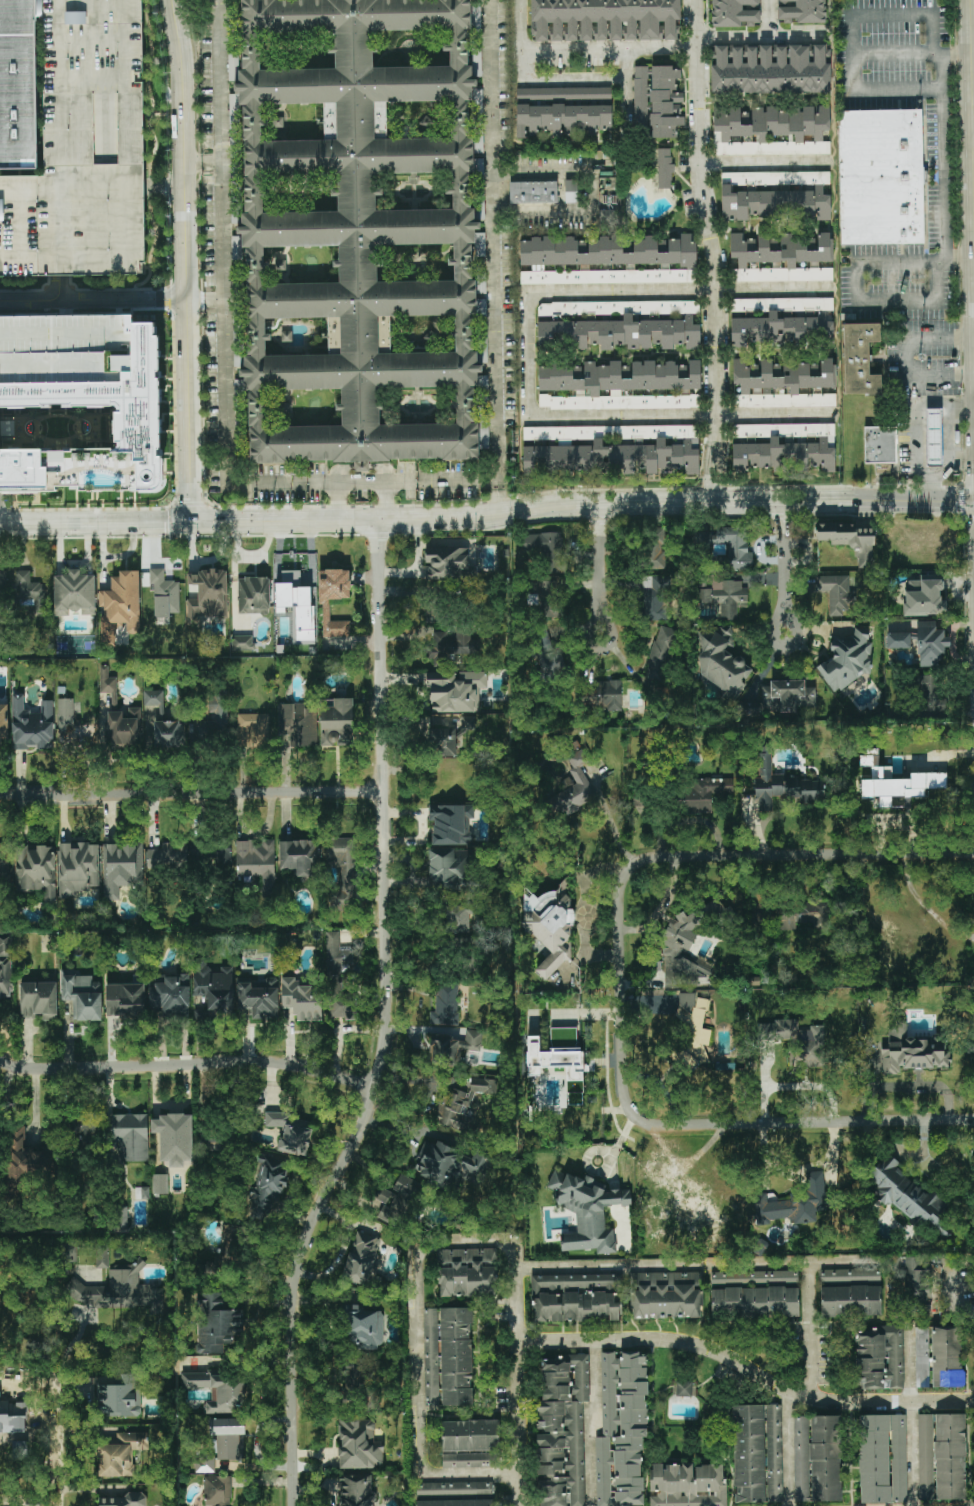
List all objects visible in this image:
road: (38, 2)
building: (38, 6)
building: (801, 11)
building: (736, 12)
road: (766, 18)
building: (605, 20)
road: (191, 30)
road: (850, 35)
road: (761, 37)
road: (584, 46)
road: (910, 54)
building: (233, 68)
building: (771, 69)
road: (556, 79)
building: (17, 85)
road: (627, 91)
building: (658, 99)
building: (563, 111)
road: (971, 119)
road: (973, 126)
building: (771, 131)
road: (56, 138)
building: (83, 149)
parking lot: (83, 149)
road: (943, 157)
road: (201, 162)
road: (762, 162)
building: (664, 168)
building: (881, 177)
building: (775, 178)
road: (121, 188)
building: (572, 191)
building: (533, 192)
road: (592, 192)
building: (774, 203)
building: (607, 218)
building: (360, 232)
road: (710, 250)
building: (780, 259)
road: (186, 260)
building: (608, 260)
road: (956, 261)
road: (493, 278)
road: (221, 284)
road: (59, 288)
road: (93, 299)
road: (205, 299)
road: (854, 300)
building: (620, 325)
building: (63, 346)
parking lot: (63, 346)
road: (526, 356)
road: (904, 356)
building: (860, 359)
building: (785, 384)
building: (619, 386)
building: (86, 426)
road: (915, 429)
building: (934, 437)
building: (880, 445)
building: (784, 446)
building: (615, 450)
road: (363, 482)
road: (498, 496)
road: (339, 501)
road: (387, 501)
road: (582, 501)
traffic signals: (192, 521)
road: (95, 522)
building: (849, 540)
building: (653, 548)
building: (546, 550)
road: (599, 556)
building: (449, 564)
road: (783, 572)
building: (287, 576)
building: (2, 584)
building: (656, 592)
building: (31, 593)
building: (74, 593)
building: (836, 593)
building: (164, 594)
building: (207, 595)
building: (253, 595)
building: (725, 596)
building: (924, 598)
building: (324, 601)
building: (121, 604)
building: (298, 607)
building: (898, 640)
building: (242, 643)
building: (930, 644)
building: (451, 648)
road: (600, 648)
building: (661, 653)
building: (847, 660)
building: (722, 662)
building: (456, 690)
building: (931, 692)
building: (609, 695)
building: (787, 695)
building: (153, 697)
building: (118, 717)
building: (213, 718)
building: (3, 722)
building: (337, 723)
building: (470, 723)
building: (298, 724)
building: (32, 725)
building: (73, 726)
building: (253, 730)
building: (150, 732)
building: (169, 734)
building: (442, 741)
building: (894, 780)
building: (784, 785)
building: (575, 787)
road: (190, 792)
building: (704, 793)
road: (609, 819)
building: (451, 823)
building: (176, 854)
building: (222, 854)
building: (300, 857)
building: (257, 863)
building: (121, 867)
building: (78, 868)
building: (450, 869)
building: (36, 870)
building: (343, 872)
building: (802, 914)
building: (458, 916)
building: (550, 927)
building: (672, 952)
building: (5, 966)
building: (338, 980)
road: (622, 990)
building: (214, 992)
building: (83, 997)
building: (259, 998)
building: (39, 1000)
building: (125, 1000)
building: (302, 1000)
building: (446, 1005)
road: (387, 1021)
building: (695, 1025)
building: (558, 1034)
building: (797, 1041)
building: (454, 1046)
building: (911, 1052)
road: (214, 1065)
building: (558, 1066)
road: (23, 1069)
building: (87, 1124)
building: (291, 1133)
building: (130, 1136)
building: (175, 1138)
building: (21, 1160)
building: (450, 1167)
road: (797, 1168)
building: (160, 1184)
building: (267, 1191)
building: (142, 1193)
building: (907, 1194)
building: (397, 1199)
building: (794, 1202)
building: (587, 1211)
building: (709, 1213)
road: (428, 1243)
building: (230, 1247)
building: (101, 1256)
building: (363, 1259)
road: (842, 1261)
building: (467, 1272)
building: (850, 1274)
building: (754, 1277)
building: (917, 1281)
road: (952, 1285)
building: (124, 1290)
building: (666, 1295)
building: (576, 1297)
building: (755, 1301)
building: (851, 1301)
building: (217, 1324)
building: (364, 1326)
road: (712, 1351)
building: (448, 1356)
building: (939, 1357)
building: (879, 1358)
building: (684, 1389)
building: (219, 1390)
building: (119, 1395)
road: (879, 1402)
road: (909, 1416)
building: (13, 1417)
road: (594, 1424)
building: (622, 1429)
building: (562, 1430)
road: (60, 1440)
building: (220, 1443)
building: (359, 1444)
building: (471, 1444)
building: (757, 1453)
building: (121, 1454)
building: (942, 1456)
building: (817, 1458)
building: (883, 1459)
building: (688, 1485)
building: (454, 1488)
building: (218, 1490)
building: (355, 1490)
road: (516, 1490)
building: (455, 1497)
building: (125, 1500)
building: (456, 1503)
building: (32, 1505)

